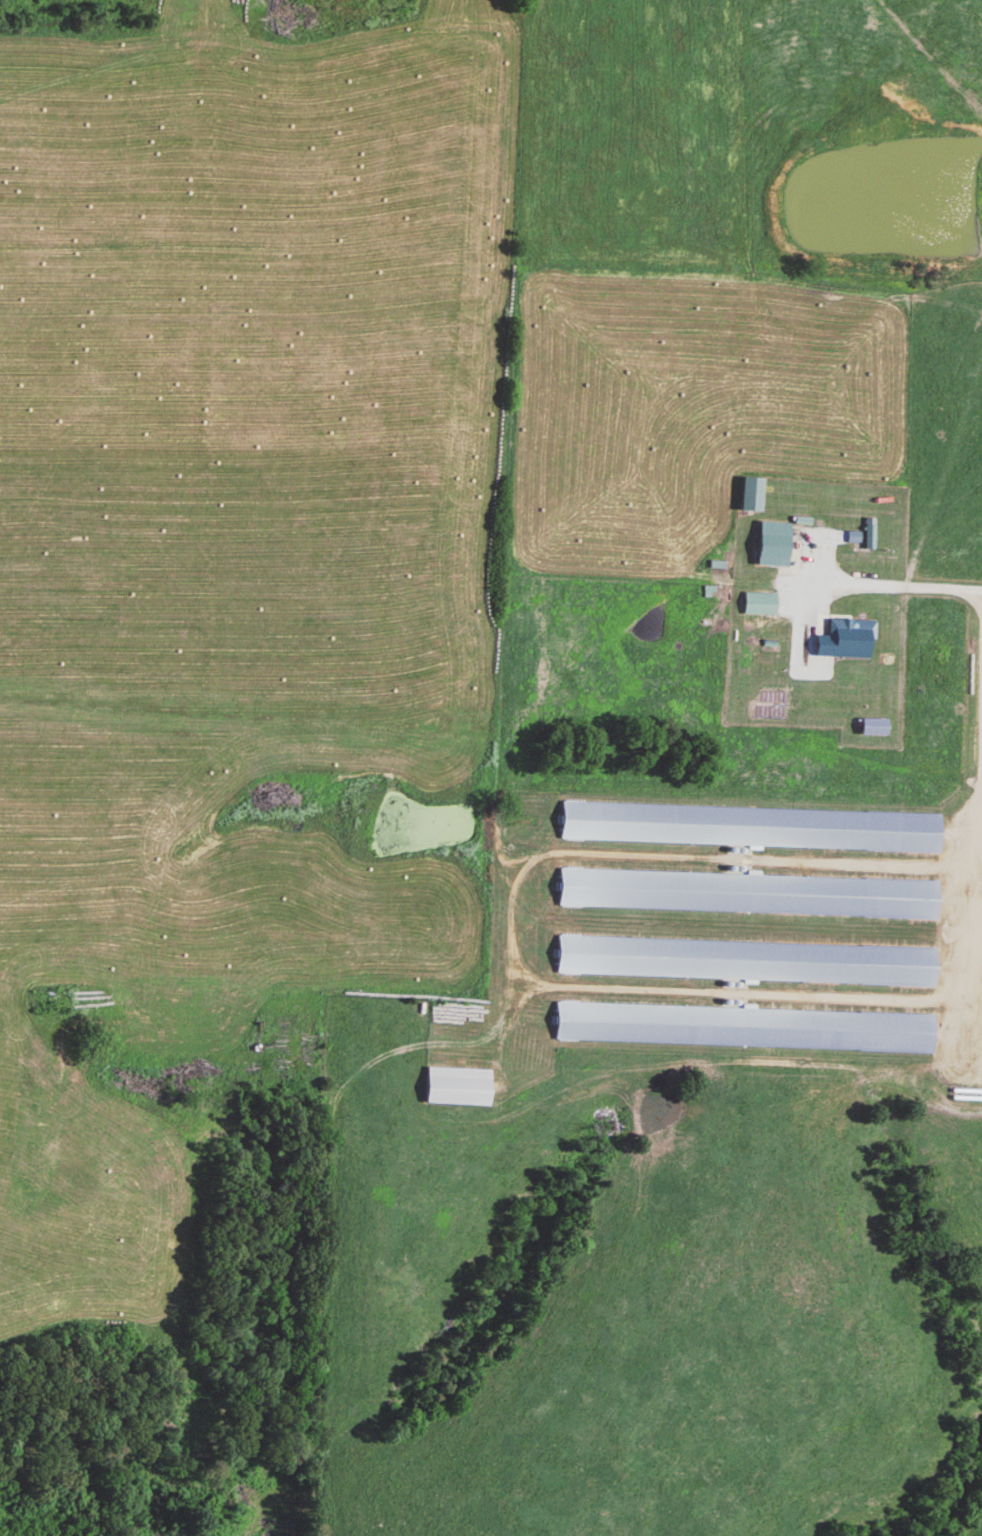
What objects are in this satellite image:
building: (751, 495)
building: (773, 545)
road: (898, 587)
building: (759, 604)
building: (799, 636)
building: (747, 651)

